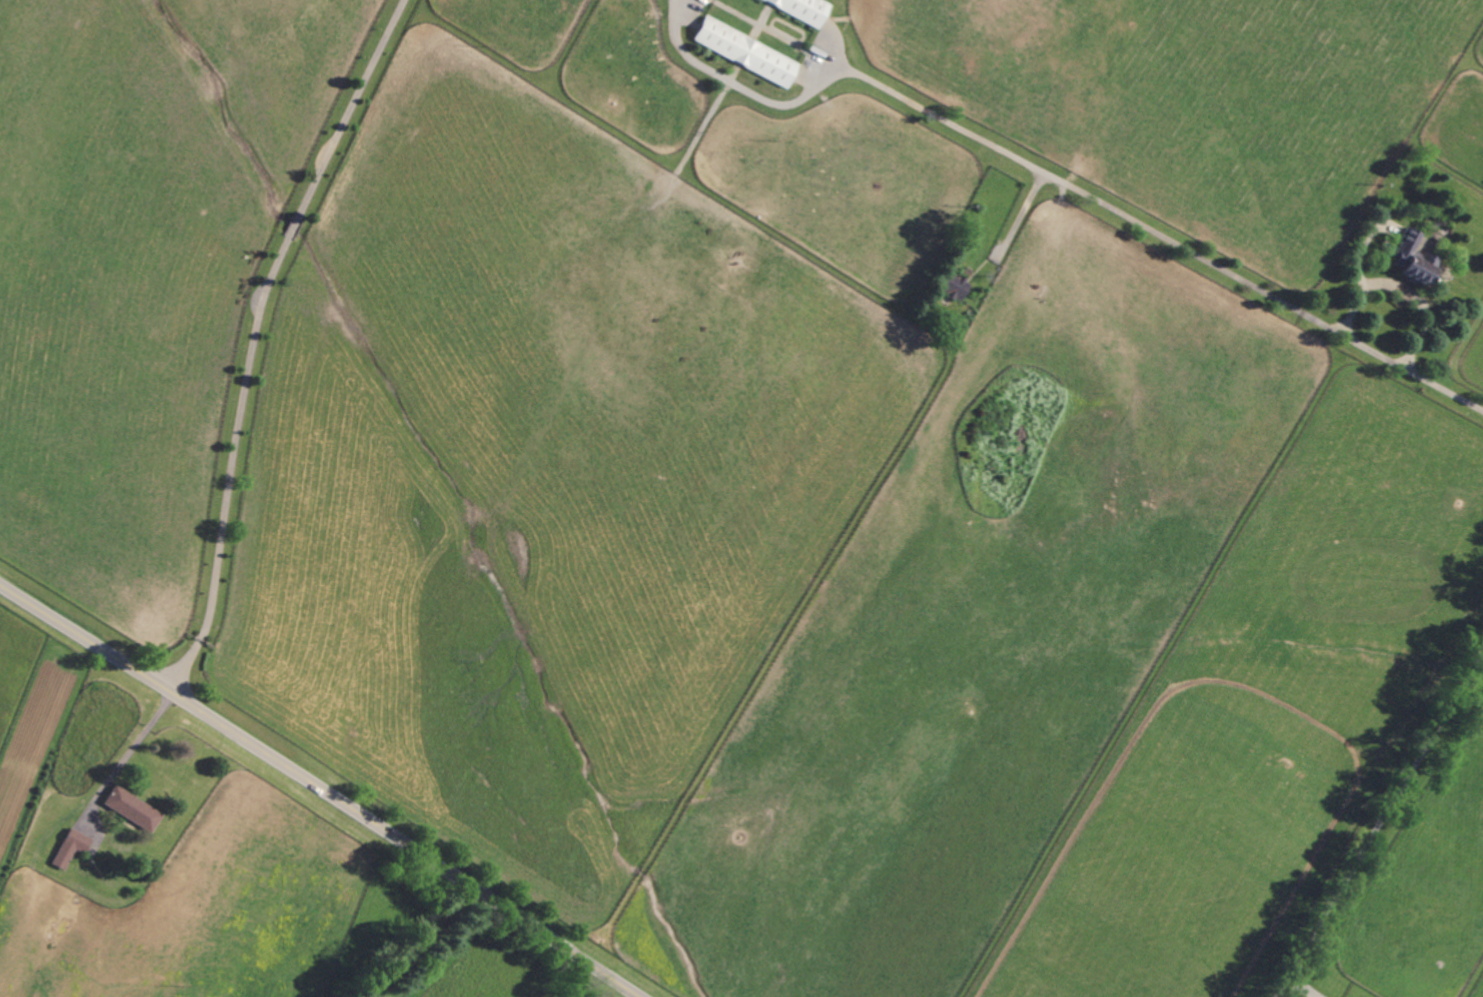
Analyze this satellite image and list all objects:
building: (804, 9)
building: (746, 53)
road: (1060, 183)
road: (1021, 216)
building: (1414, 257)
building: (956, 286)
road: (1408, 300)
road: (251, 334)
road: (137, 742)
road: (321, 789)
building: (132, 808)
road: (1383, 828)
building: (71, 848)
road: (415, 941)
road: (1306, 989)

